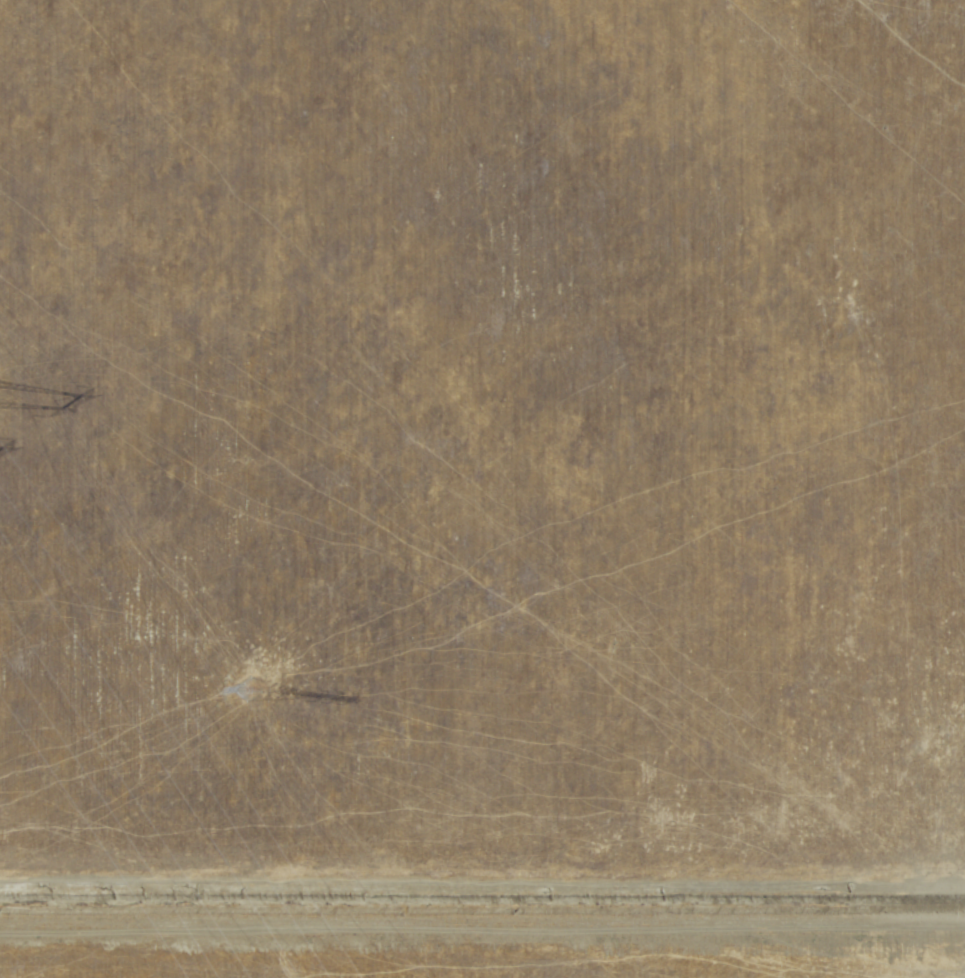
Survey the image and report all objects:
power tower: (266, 706)

